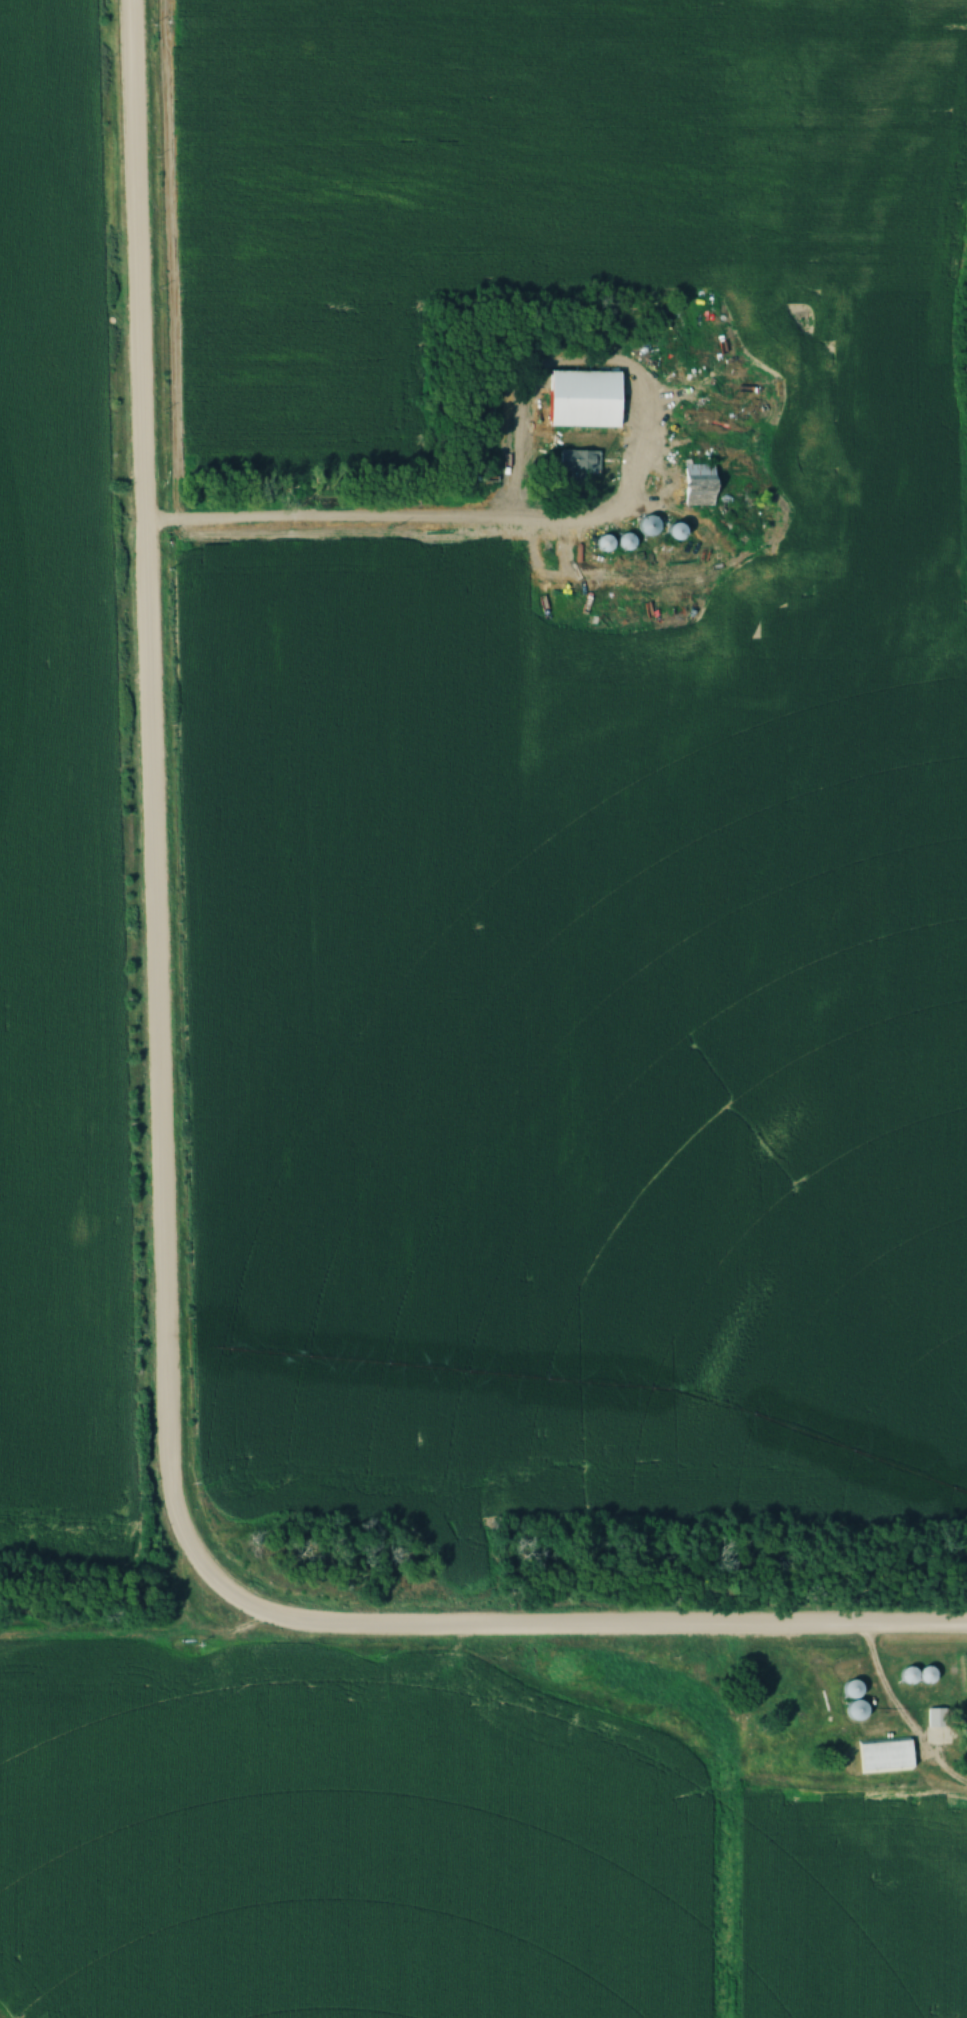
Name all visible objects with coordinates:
building: (651, 341)
building: (639, 406)
building: (577, 460)
road: (632, 483)
building: (696, 484)
road: (660, 495)
road: (411, 522)
building: (646, 526)
building: (673, 532)
road: (157, 1180)
building: (924, 1675)
building: (850, 1690)
building: (934, 1717)
road: (901, 1720)
building: (883, 1756)

